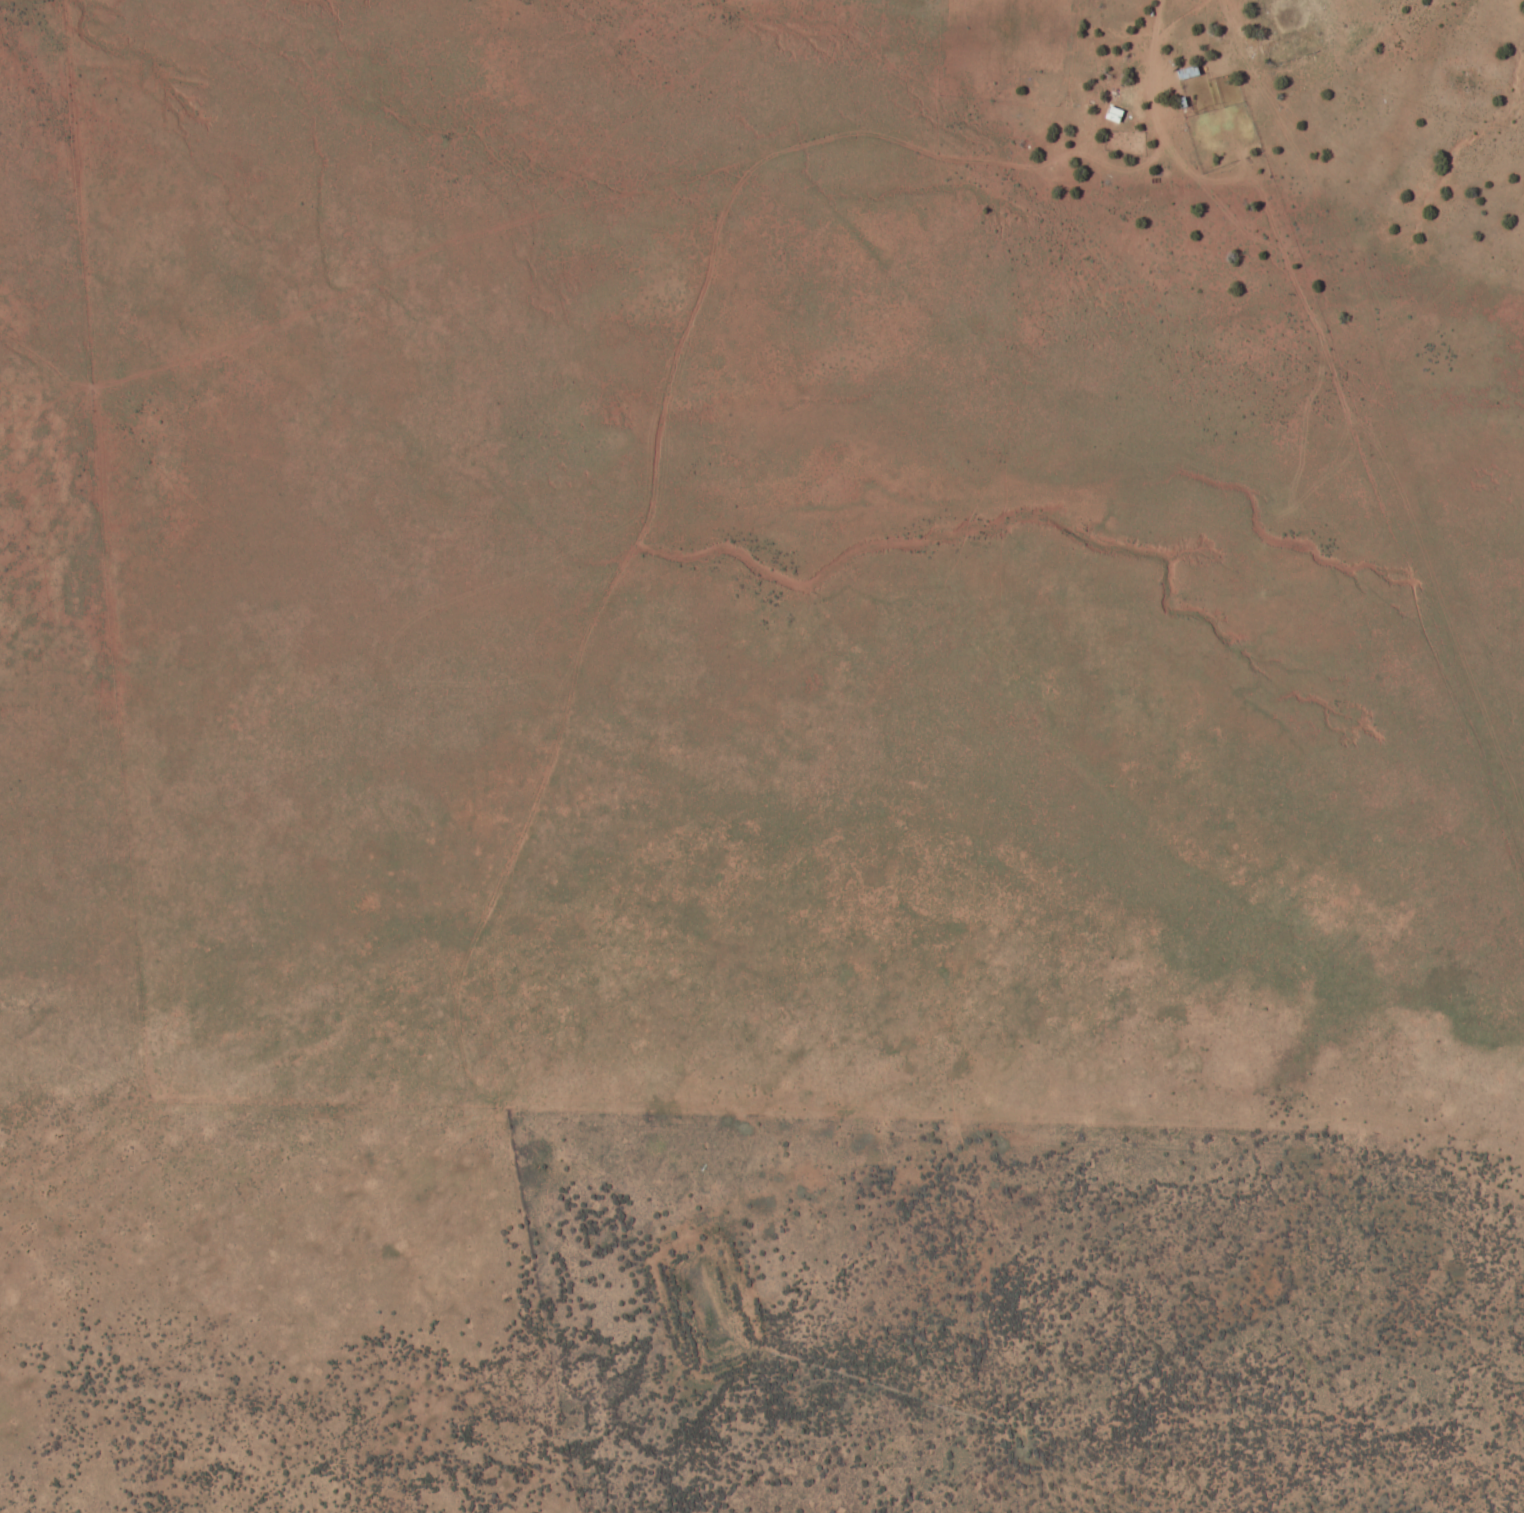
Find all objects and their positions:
road: (1220, 23)

